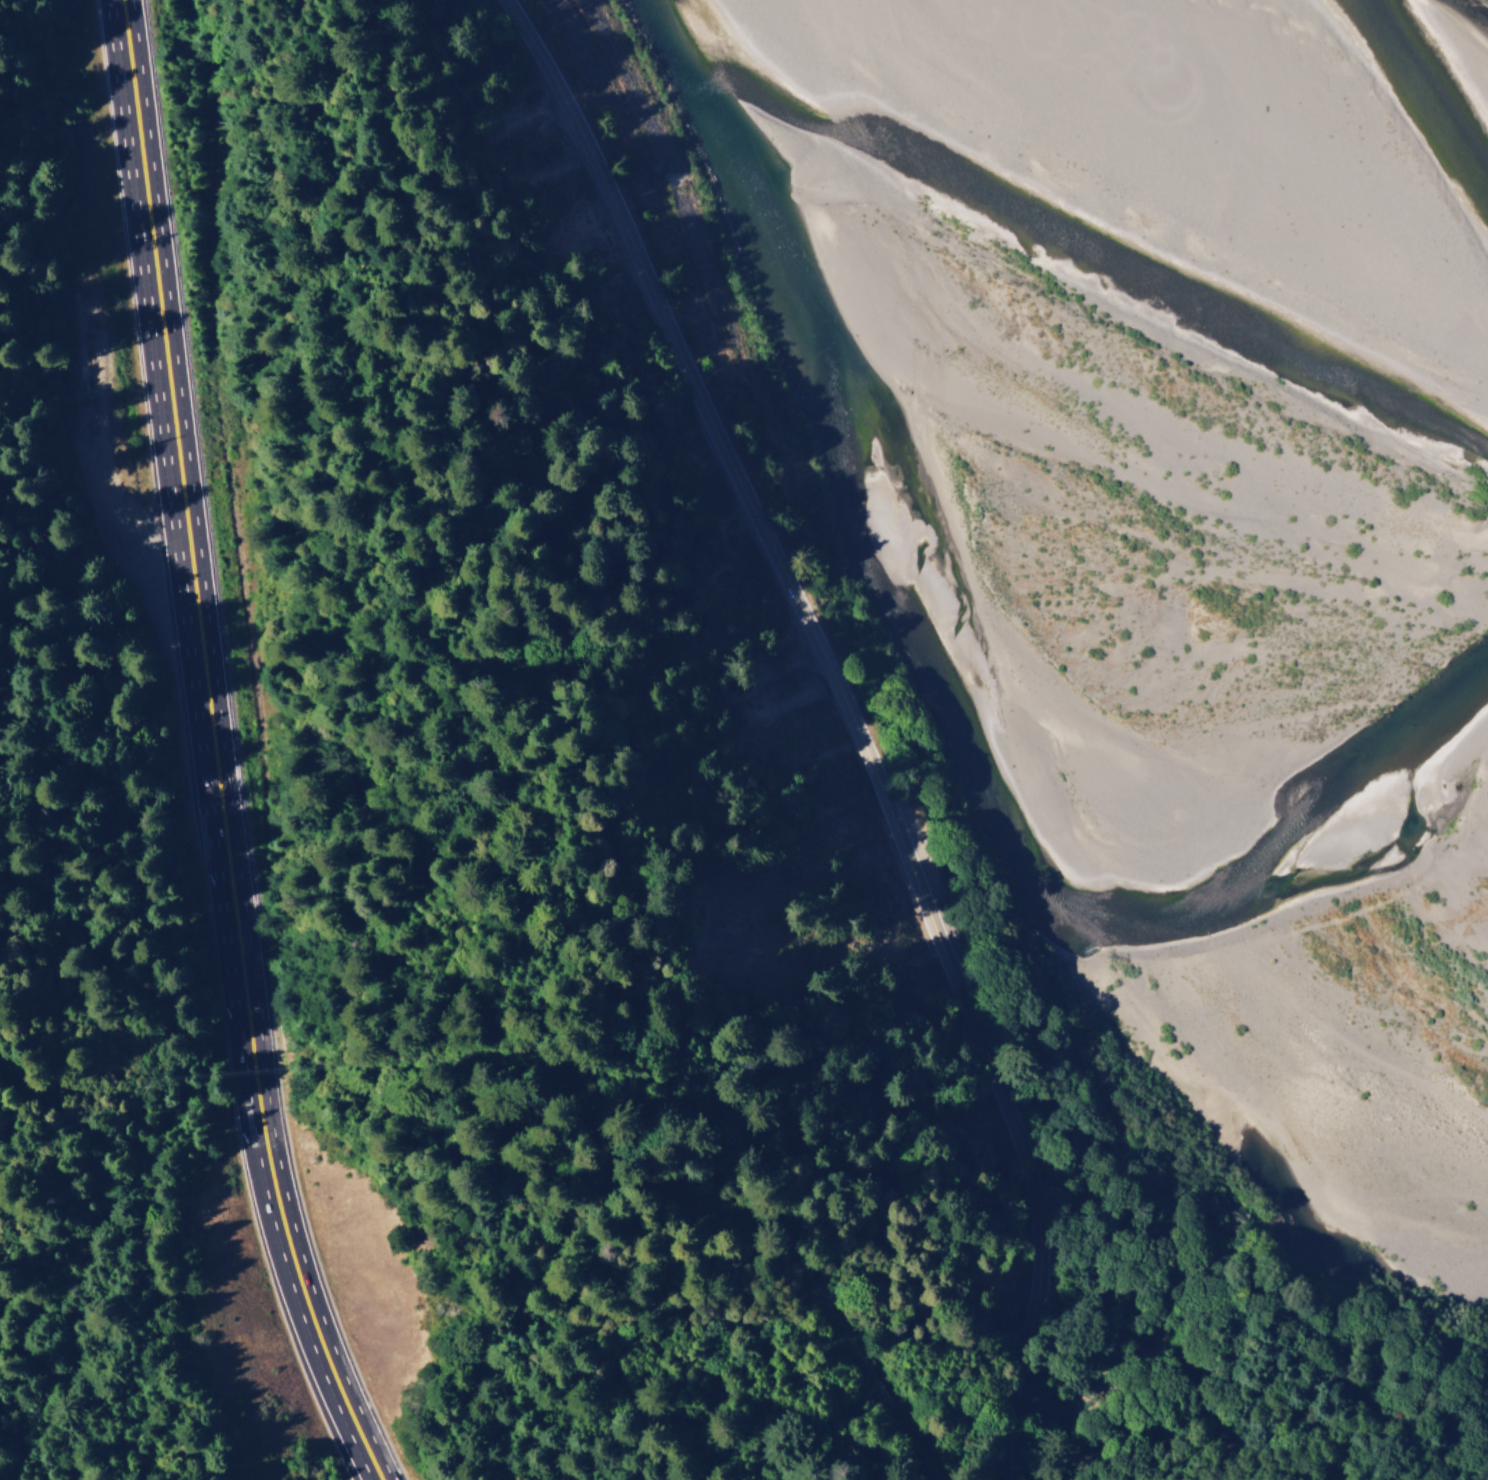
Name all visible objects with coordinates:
river: (846, 348)
road: (190, 567)
road: (844, 716)
park: (60, 766)
river: (1226, 788)
road: (302, 1312)

